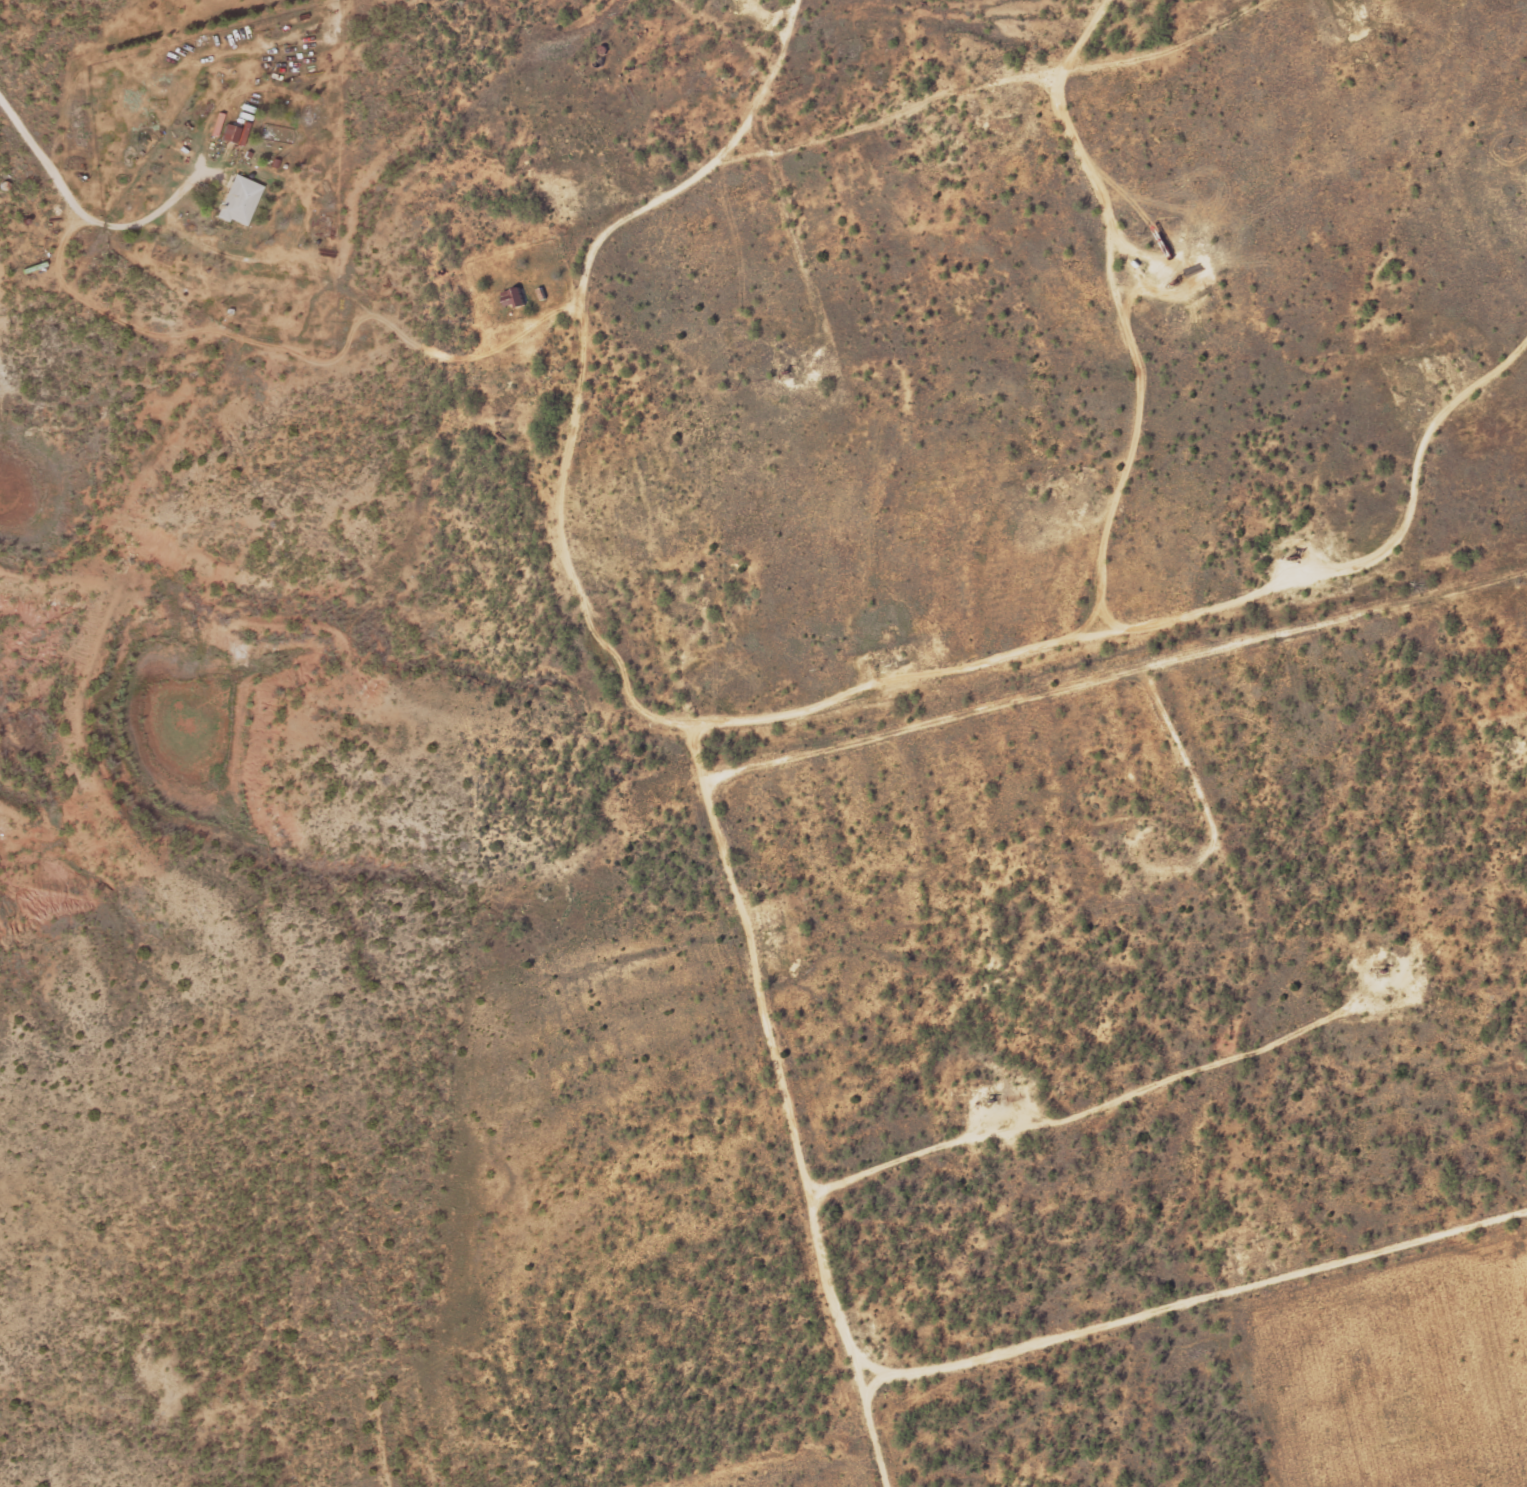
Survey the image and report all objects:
building: (231, 133)
building: (240, 201)
road: (77, 208)
building: (517, 299)
road: (210, 681)

